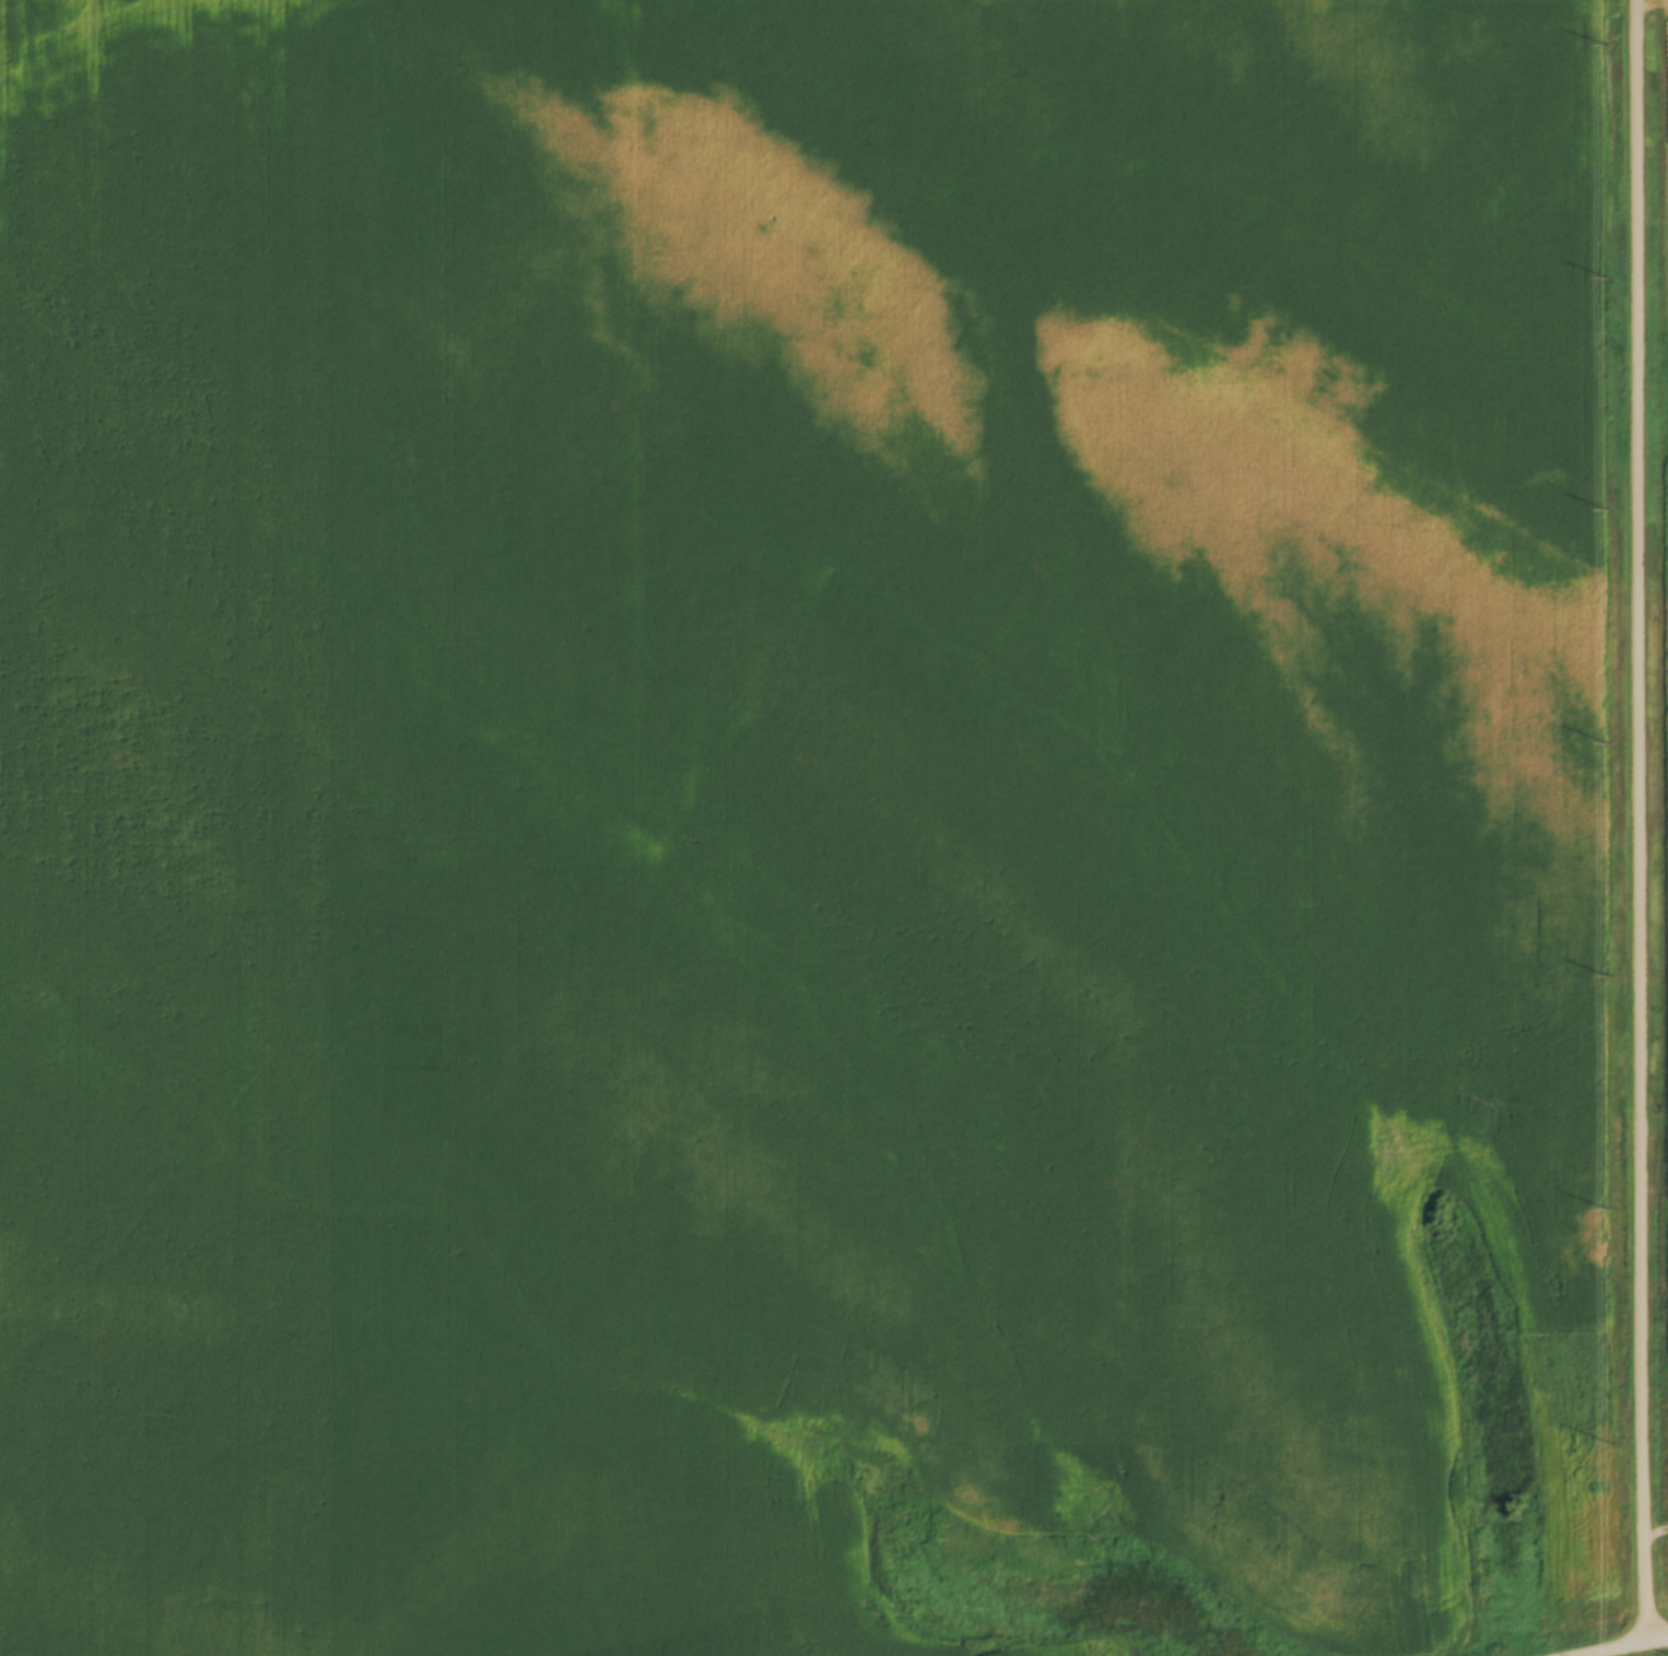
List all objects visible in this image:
road: (1646, 819)
road: (1621, 1645)

